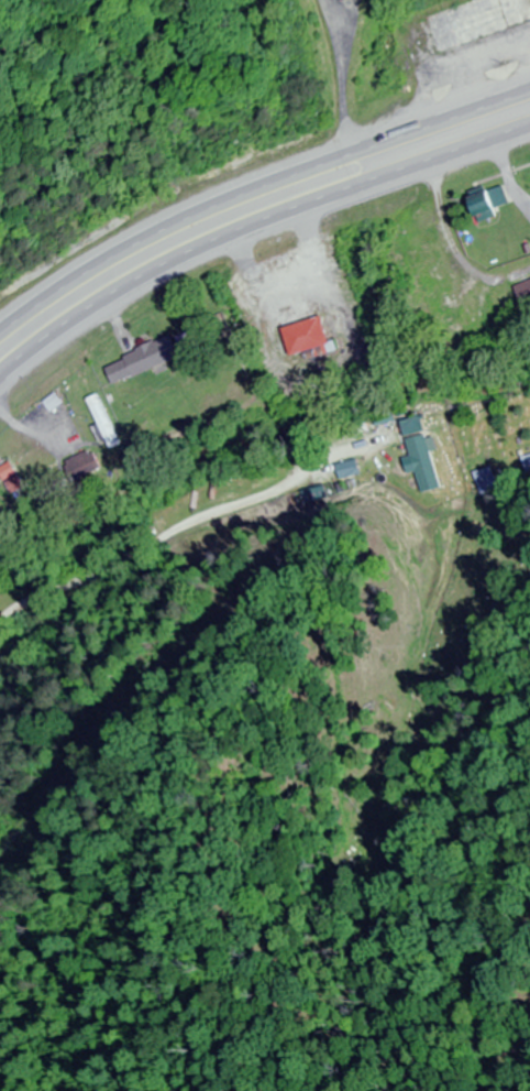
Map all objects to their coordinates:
building: (476, 23)
road: (254, 187)
building: (487, 204)
road: (252, 231)
road: (452, 244)
building: (305, 337)
building: (140, 361)
building: (102, 422)
building: (420, 461)
building: (527, 462)
building: (8, 476)

